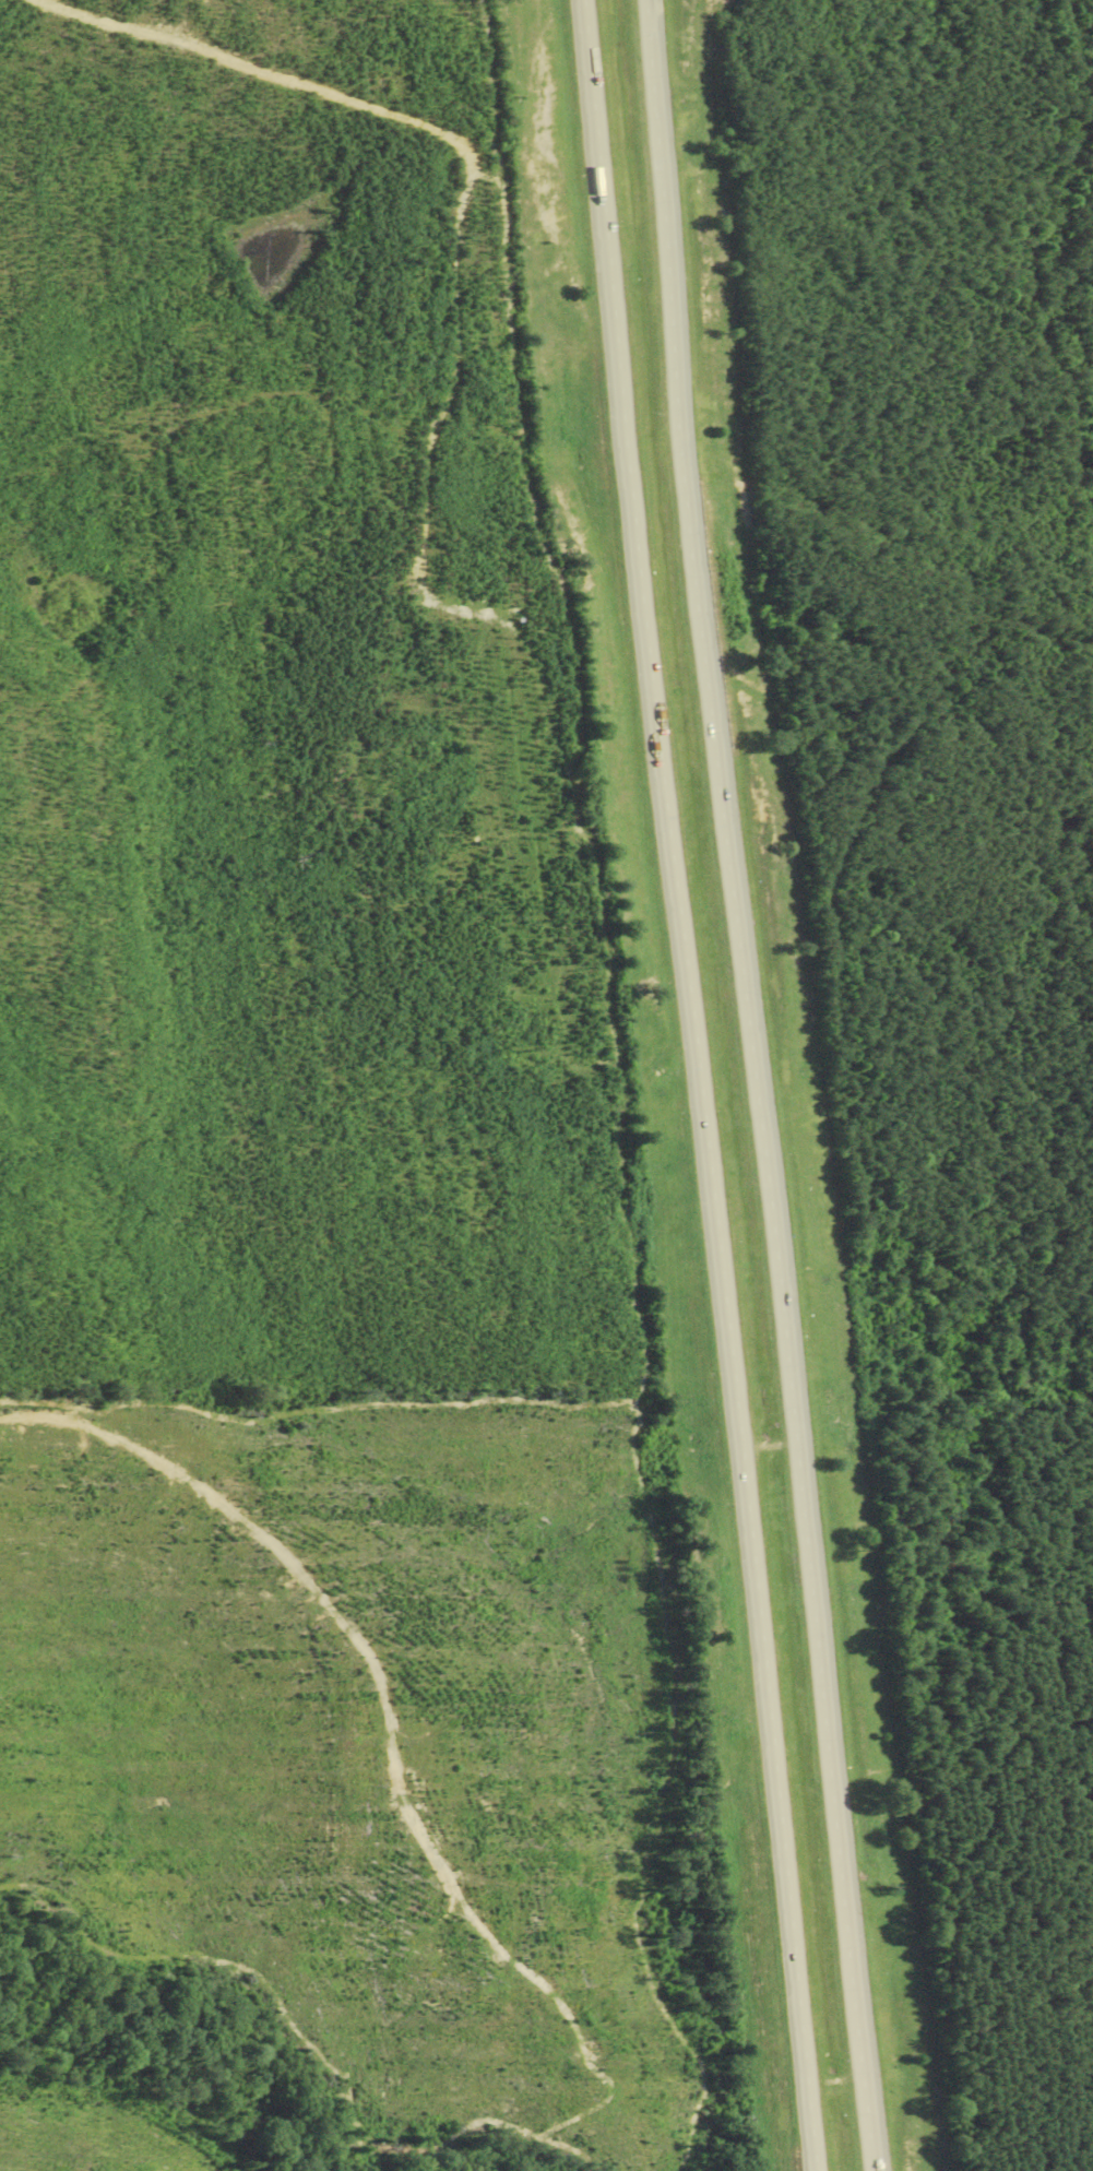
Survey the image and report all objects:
road: (259, 69)
road: (635, 550)
road: (753, 1085)
road: (761, 1636)

